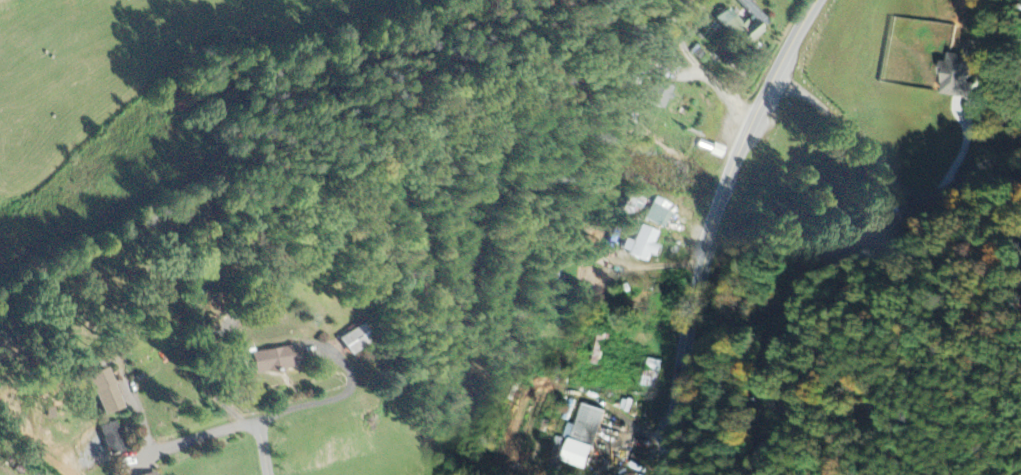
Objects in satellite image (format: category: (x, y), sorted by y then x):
building: (744, 24)
building: (953, 78)
building: (659, 95)
road: (848, 127)
building: (717, 151)
road: (962, 171)
building: (658, 213)
road: (713, 227)
building: (642, 245)
building: (355, 341)
building: (275, 361)
building: (648, 374)
building: (103, 391)
road: (782, 409)
road: (280, 412)
building: (579, 437)
building: (113, 439)
building: (156, 474)

